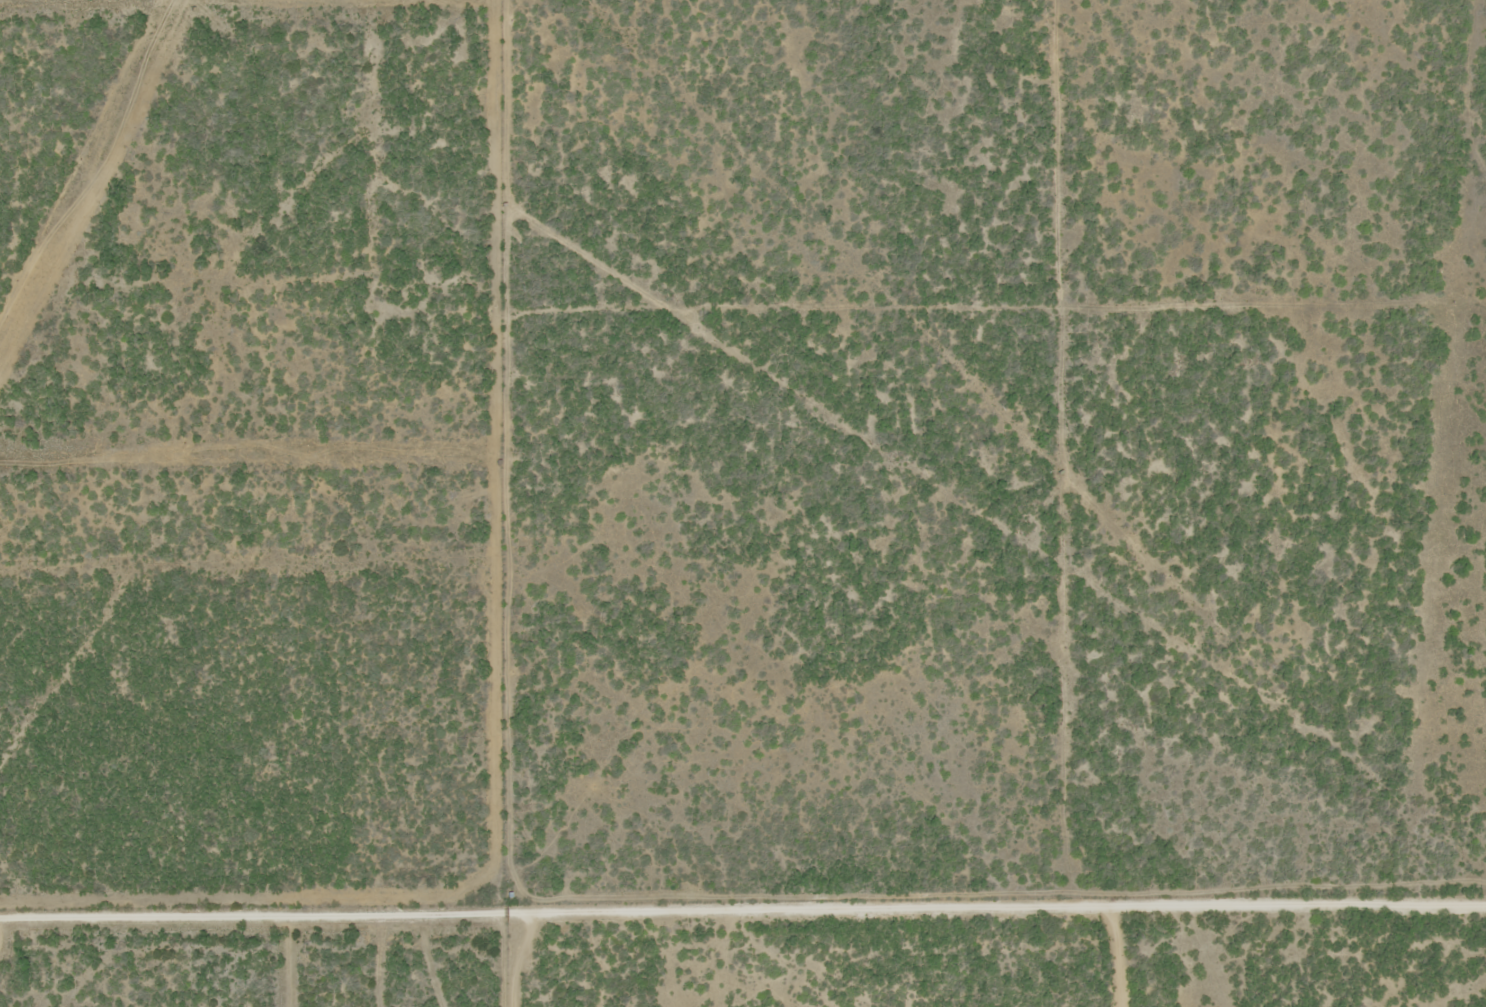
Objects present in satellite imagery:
road: (581, 901)
road: (1, 919)

